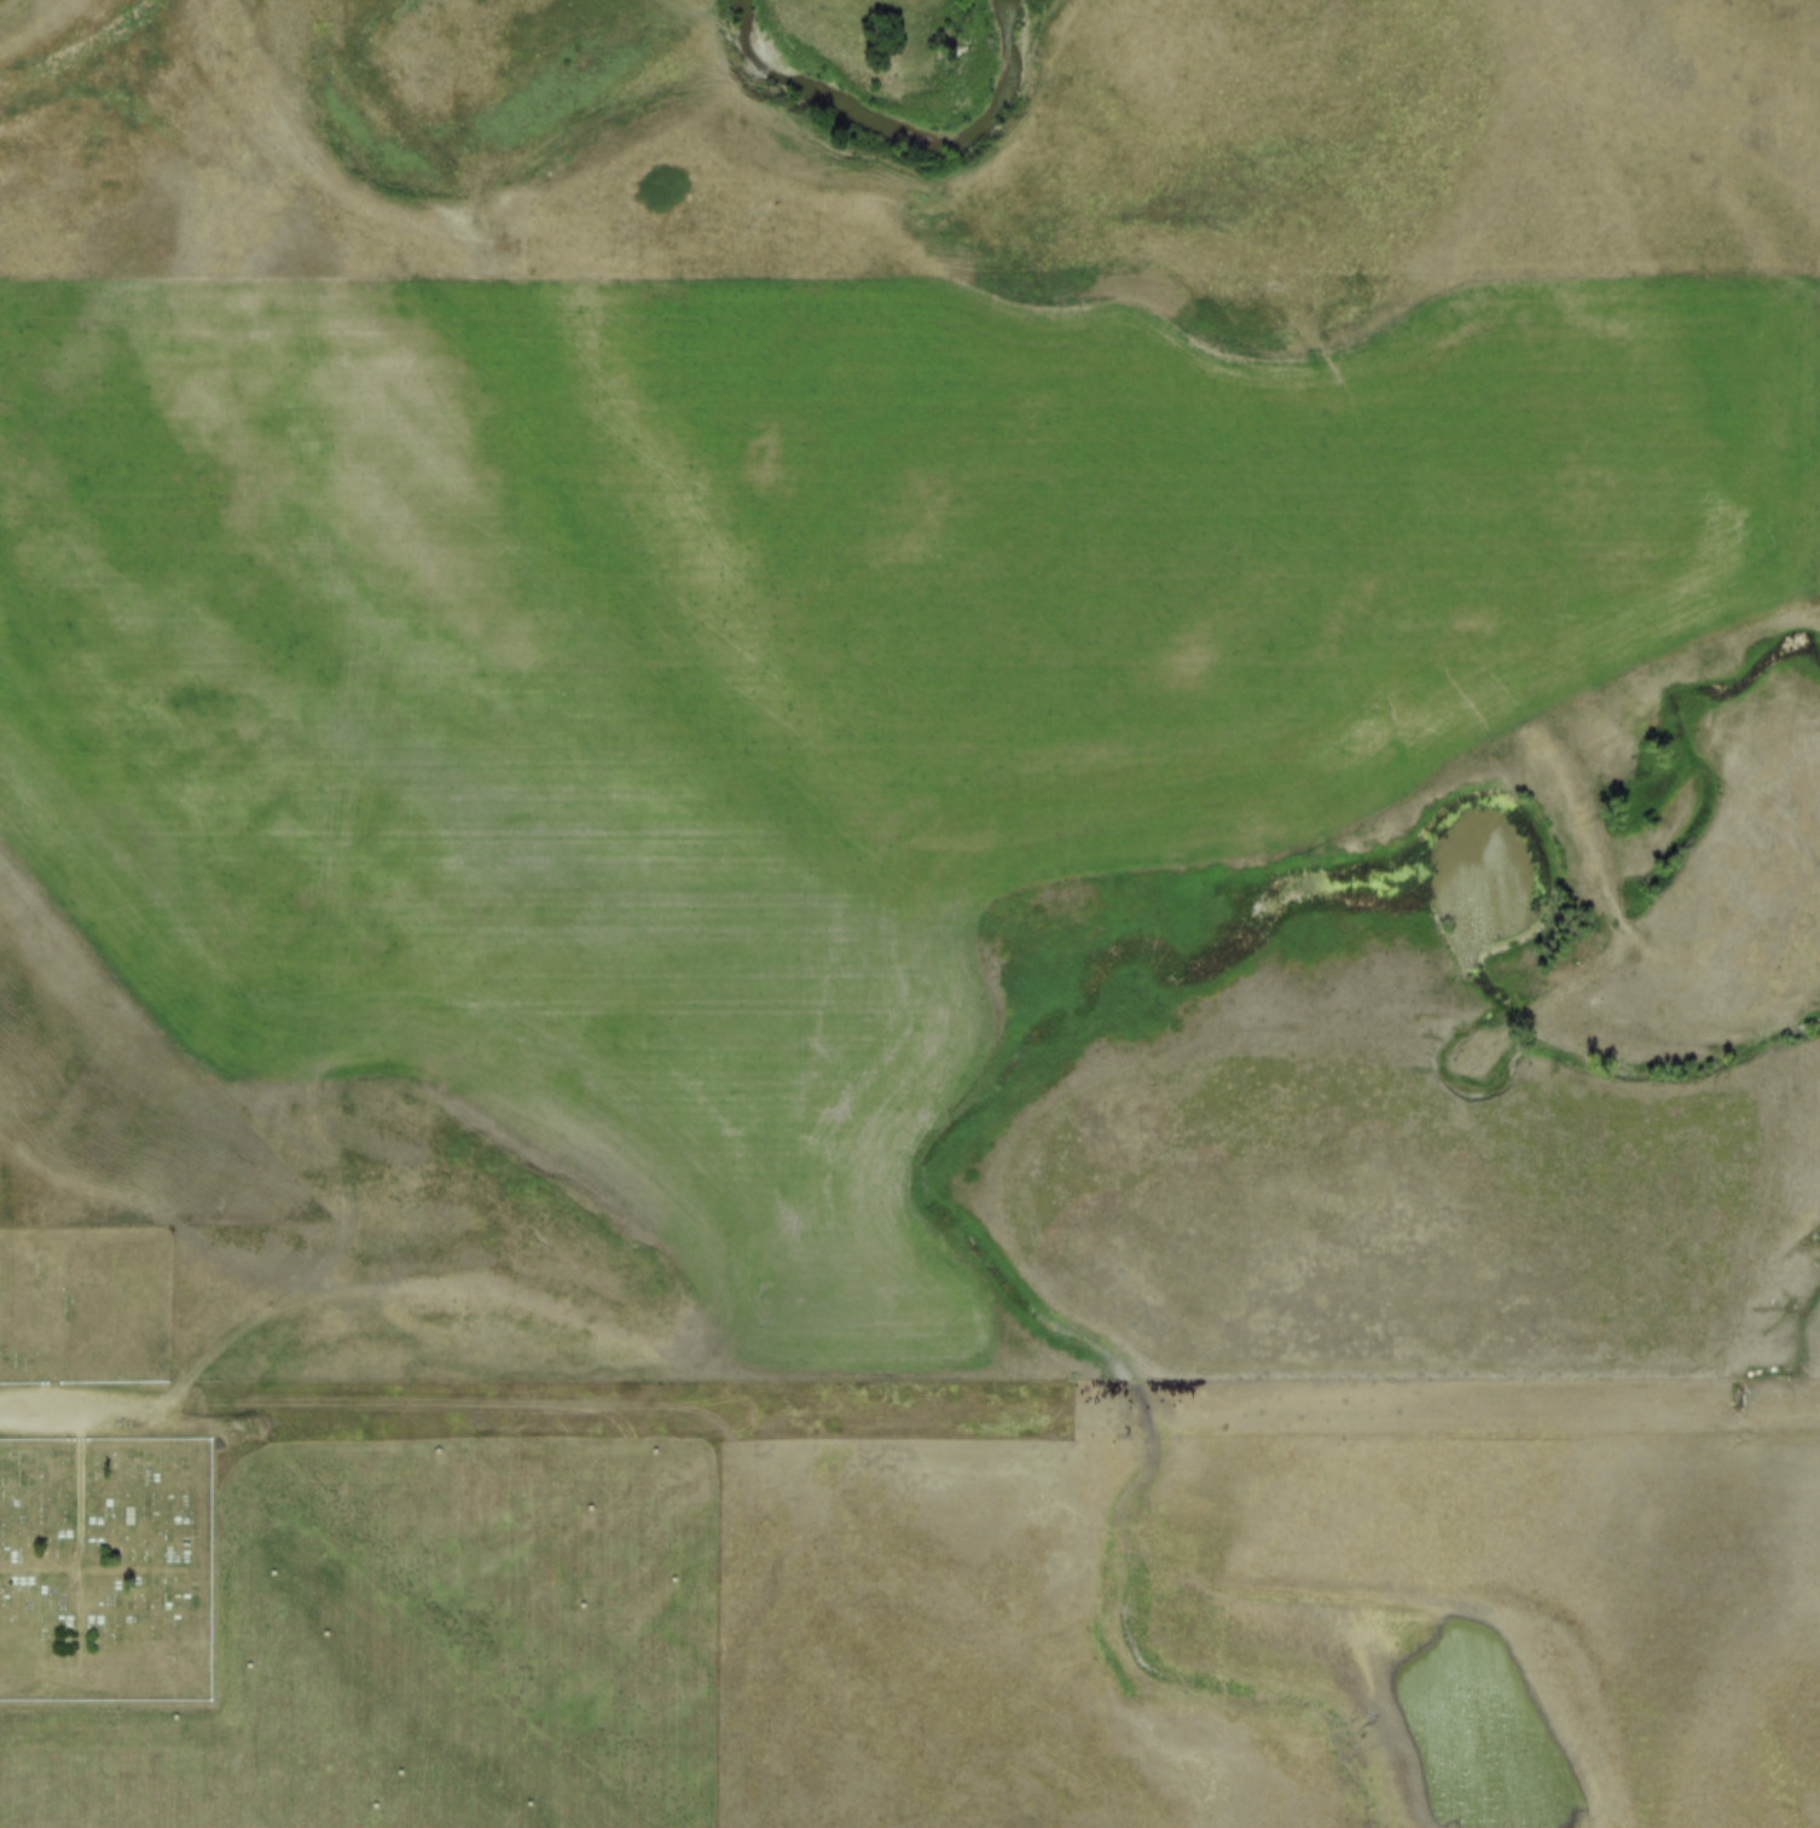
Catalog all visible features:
road: (48, 1406)
road: (80, 1539)

